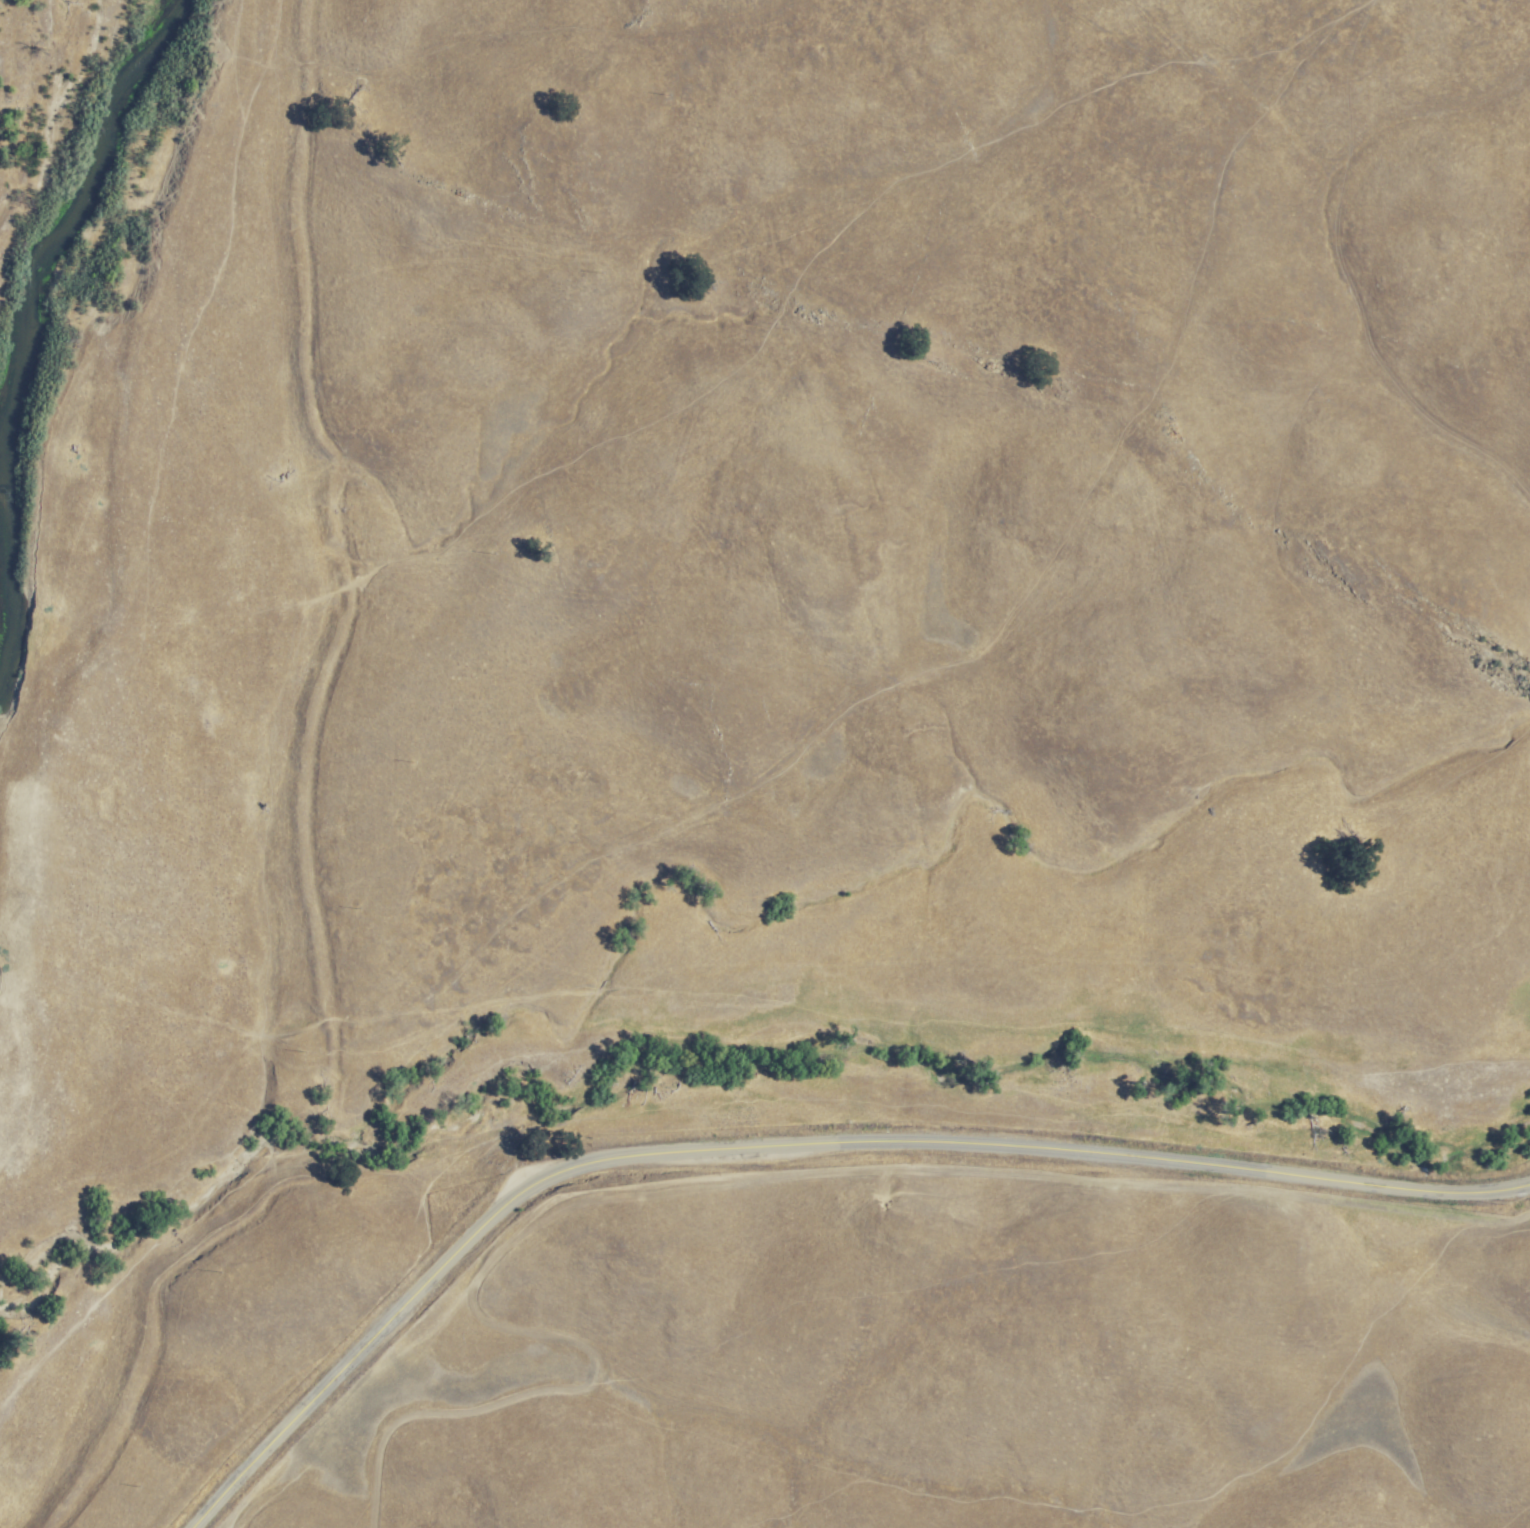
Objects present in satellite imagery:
river: (66, 222)
road: (788, 1148)

